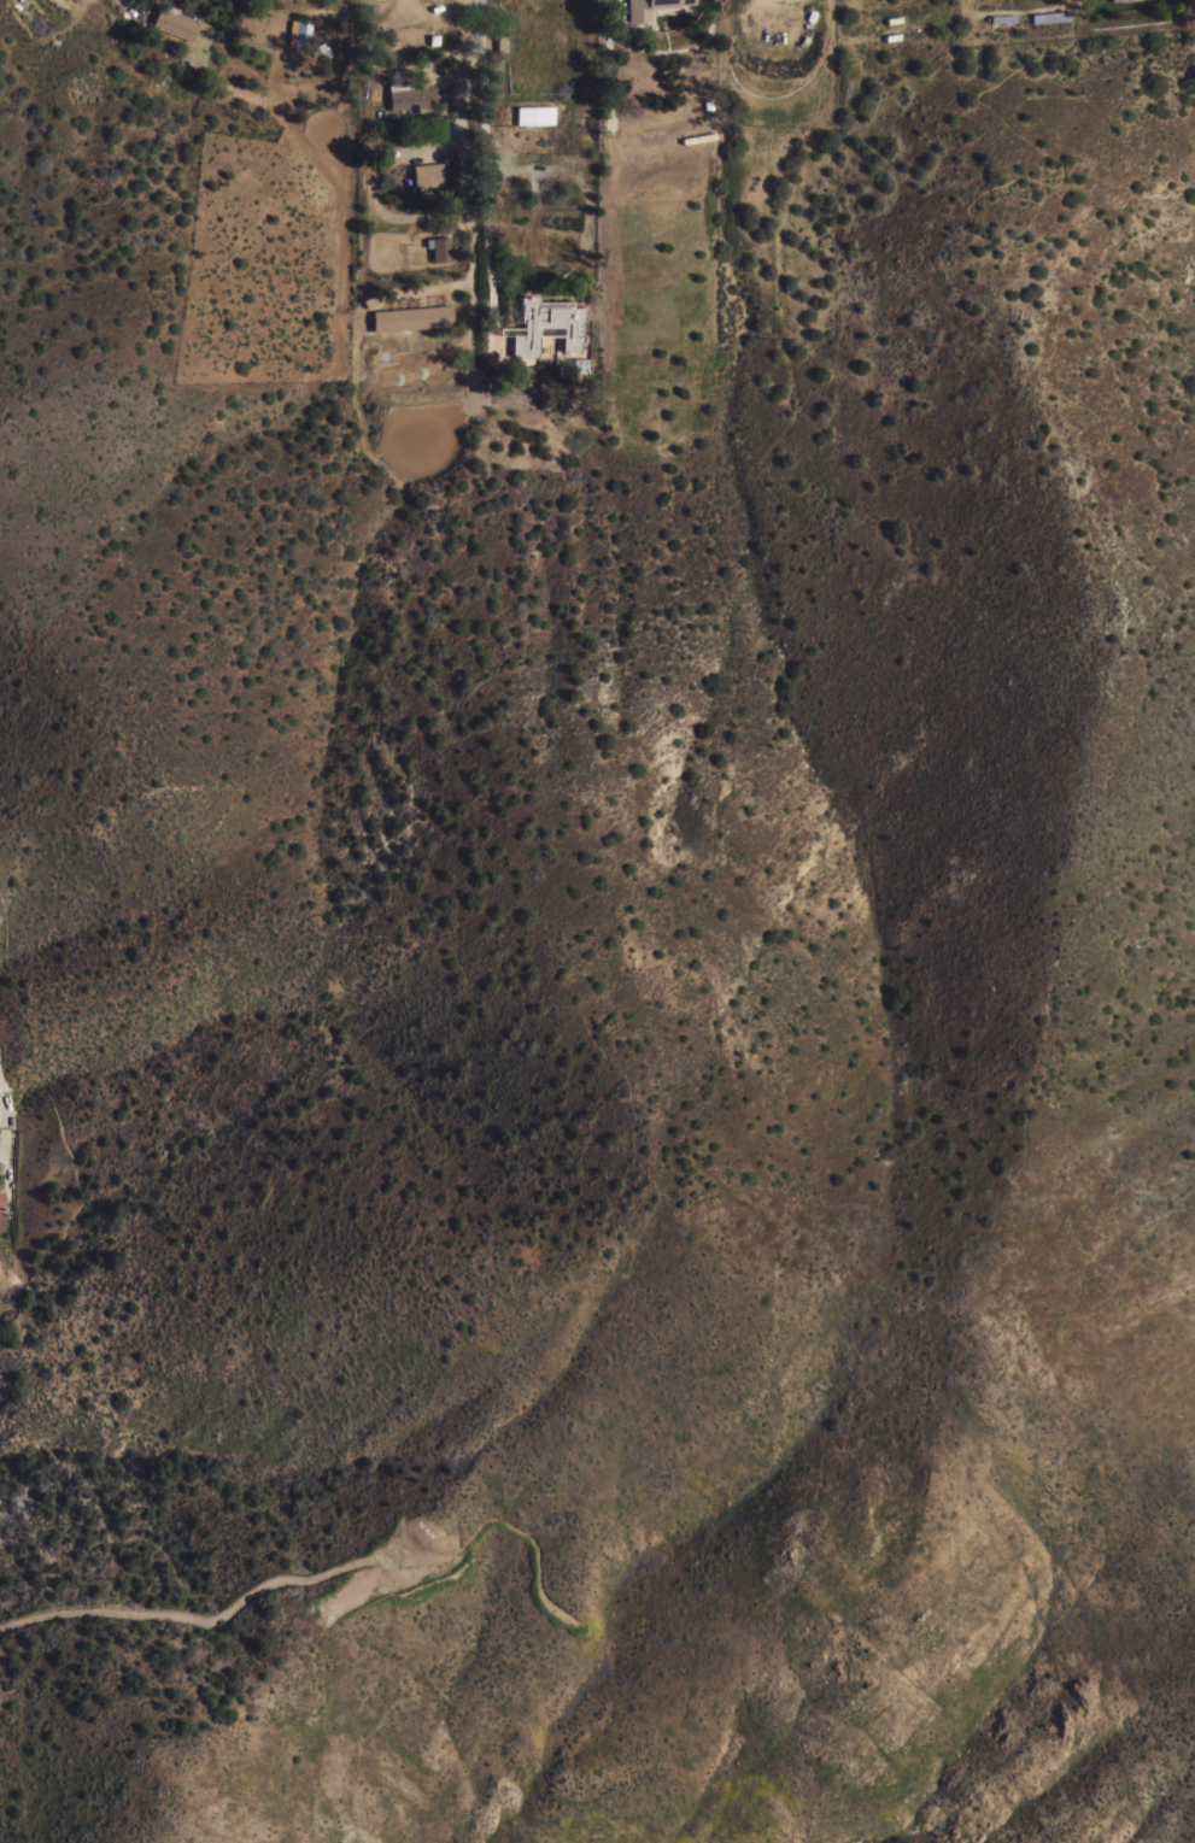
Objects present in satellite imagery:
building: (648, 7)
building: (1049, 16)
building: (1002, 18)
building: (172, 22)
building: (298, 33)
building: (323, 48)
building: (405, 95)
building: (533, 115)
road: (484, 134)
building: (427, 174)
building: (411, 317)
building: (546, 324)
building: (580, 364)
road: (1, 1131)
building: (1, 1199)

